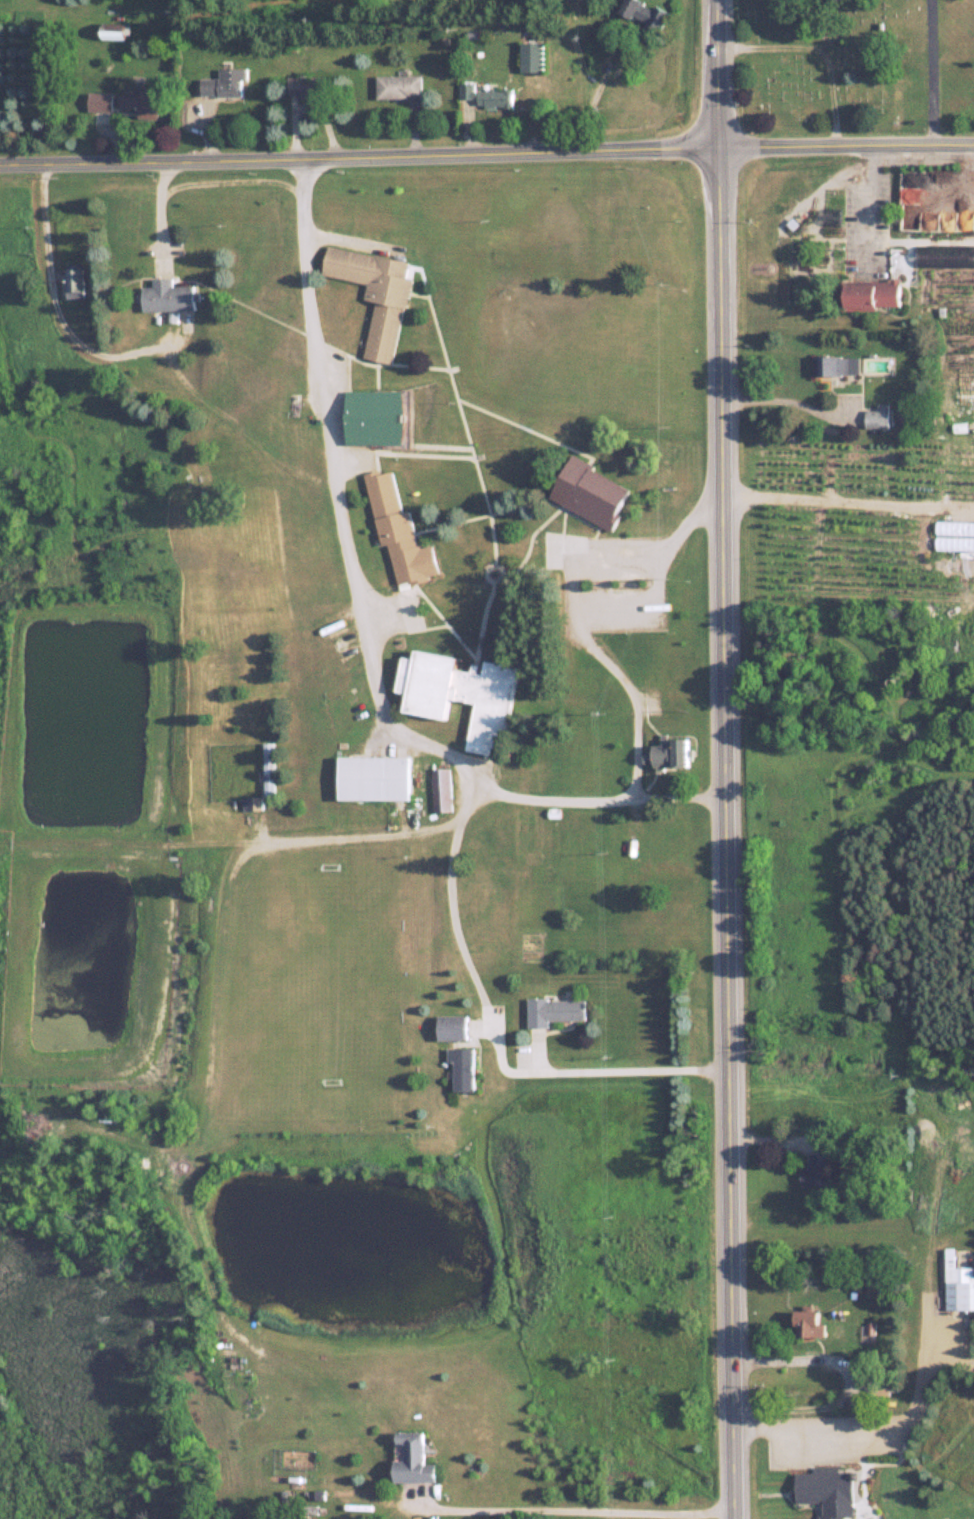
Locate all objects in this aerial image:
building: (643, 12)
building: (113, 33)
building: (531, 55)
park: (852, 66)
building: (224, 83)
building: (307, 85)
building: (398, 86)
building: (485, 96)
building: (99, 101)
building: (141, 102)
road: (486, 153)
road: (863, 207)
road: (157, 214)
building: (75, 280)
building: (374, 294)
building: (869, 294)
building: (167, 296)
building: (964, 344)
road: (132, 358)
building: (834, 365)
road: (782, 412)
building: (374, 418)
building: (875, 418)
road: (331, 486)
building: (588, 492)
road: (845, 504)
building: (397, 531)
road: (638, 611)
building: (791, 655)
road: (625, 685)
building: (459, 694)
building: (668, 753)
road: (720, 759)
building: (268, 768)
building: (374, 777)
building: (440, 790)
road: (677, 800)
building: (250, 803)
building: (652, 850)
building: (553, 1011)
building: (452, 1027)
road: (492, 1032)
building: (462, 1067)
building: (813, 1172)
building: (958, 1284)
building: (809, 1323)
building: (880, 1385)
road: (846, 1386)
road: (812, 1430)
parking lot: (835, 1439)
park: (860, 1455)
building: (411, 1458)
building: (825, 1490)
road: (576, 1515)

